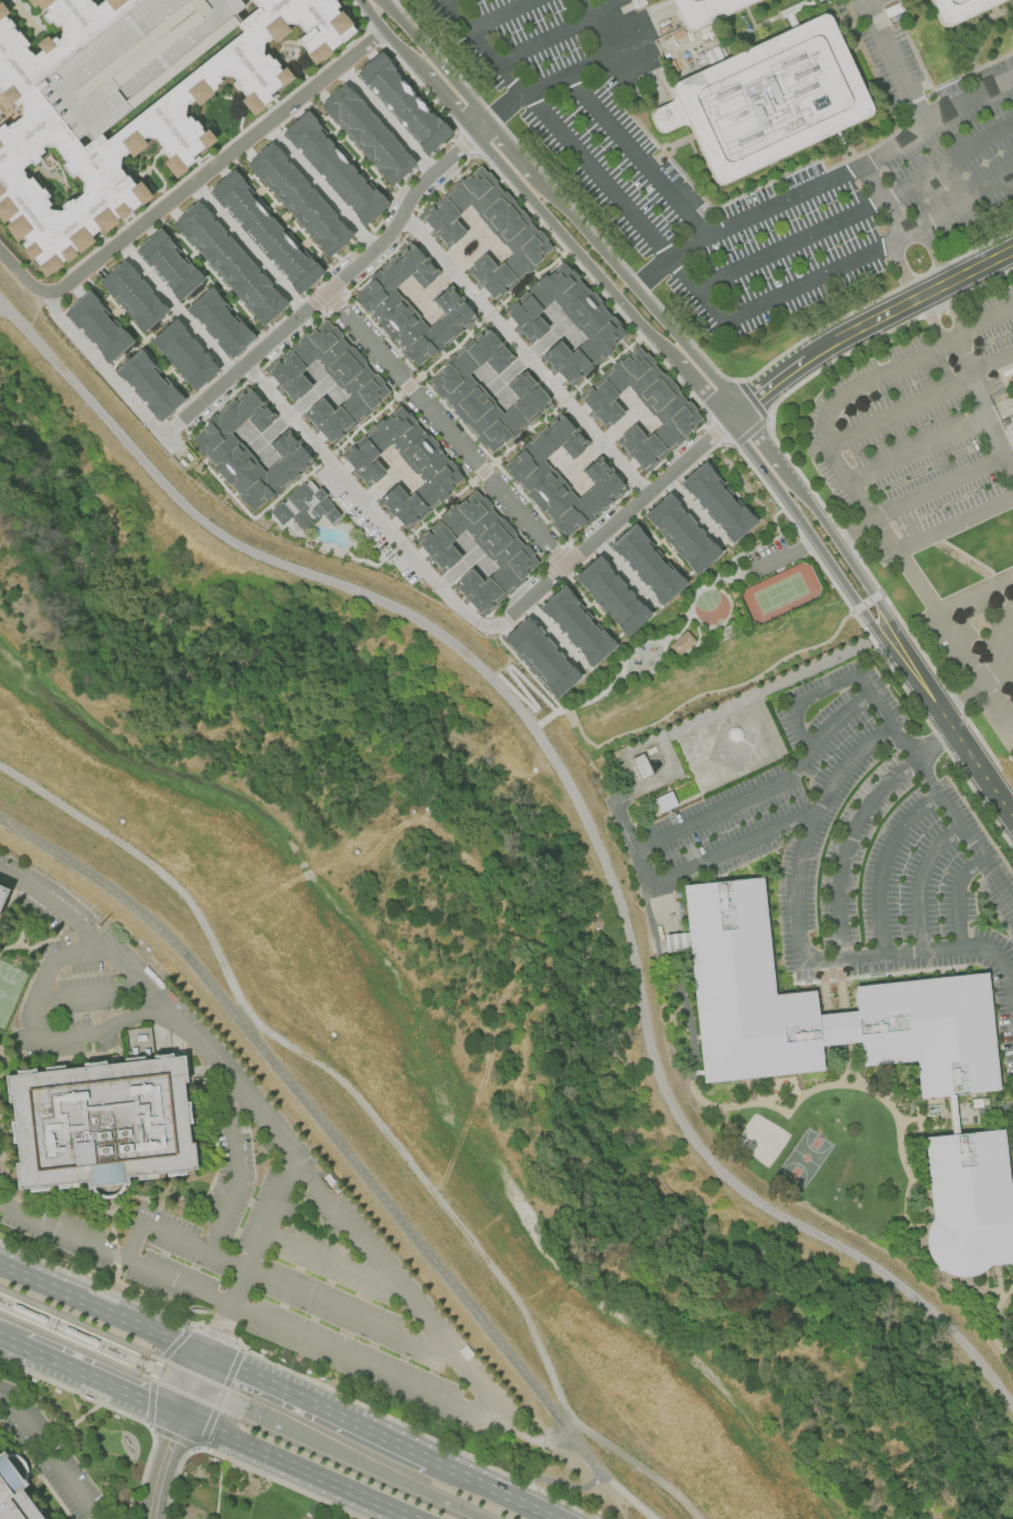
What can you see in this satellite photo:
parking lot: (389, 2)
building: (963, 9)
building: (709, 12)
road: (29, 13)
road: (38, 13)
park: (23, 15)
road: (504, 16)
road: (377, 35)
road: (542, 43)
road: (598, 46)
road: (360, 48)
building: (131, 59)
parking garage: (131, 59)
road: (292, 60)
road: (435, 62)
road: (895, 66)
road: (566, 78)
road: (226, 96)
road: (274, 100)
building: (770, 100)
building: (401, 101)
road: (236, 105)
road: (8, 112)
building: (129, 113)
road: (499, 113)
road: (384, 119)
road: (554, 129)
building: (366, 134)
road: (227, 141)
road: (201, 156)
road: (638, 158)
building: (48, 159)
road: (195, 160)
parking lot: (926, 165)
building: (334, 168)
road: (152, 169)
road: (52, 175)
road: (844, 176)
road: (197, 178)
road: (145, 181)
road: (443, 181)
road: (319, 186)
building: (298, 198)
road: (884, 202)
road: (130, 214)
road: (857, 214)
road: (123, 217)
road: (410, 224)
building: (264, 231)
road: (99, 235)
building: (520, 238)
road: (246, 248)
road: (936, 254)
road: (576, 262)
building: (228, 263)
building: (167, 264)
road: (833, 272)
road: (902, 273)
road: (651, 274)
road: (528, 277)
road: (25, 279)
road: (44, 296)
building: (131, 296)
road: (345, 298)
road: (311, 302)
road: (336, 304)
building: (383, 306)
road: (174, 309)
road: (319, 311)
road: (958, 311)
road: (287, 312)
road: (328, 312)
road: (630, 312)
road: (489, 313)
building: (590, 321)
building: (219, 323)
road: (872, 323)
building: (98, 325)
road: (984, 325)
road: (26, 326)
road: (931, 326)
road: (449, 351)
road: (256, 353)
road: (525, 353)
building: (183, 355)
road: (991, 360)
road: (604, 361)
road: (703, 368)
road: (252, 374)
building: (354, 379)
building: (149, 384)
road: (407, 385)
building: (459, 392)
road: (564, 398)
road: (838, 400)
road: (984, 403)
building: (667, 406)
road: (407, 408)
road: (899, 410)
road: (730, 413)
road: (455, 418)
road: (365, 421)
road: (445, 429)
road: (713, 433)
road: (522, 435)
road: (919, 448)
building: (247, 452)
road: (325, 457)
building: (431, 465)
road: (482, 471)
building: (533, 475)
parking lot: (931, 480)
road: (298, 482)
road: (637, 482)
road: (939, 485)
road: (653, 499)
building: (717, 503)
building: (304, 505)
road: (441, 506)
parking lot: (351, 507)
road: (347, 513)
road: (255, 516)
road: (954, 524)
road: (332, 526)
road: (853, 527)
building: (681, 533)
road: (401, 542)
road: (765, 543)
road: (325, 544)
road: (561, 545)
building: (505, 550)
road: (552, 551)
road: (783, 557)
building: (646, 564)
road: (544, 567)
parking lot: (405, 569)
road: (551, 576)
road: (515, 589)
park: (779, 593)
road: (973, 593)
building: (611, 596)
park: (711, 607)
road: (469, 616)
road: (727, 619)
road: (939, 621)
road: (494, 626)
building: (575, 626)
park: (715, 632)
road: (697, 639)
building: (681, 642)
building: (540, 657)
road: (999, 659)
road: (654, 670)
road: (710, 691)
road: (753, 694)
road: (804, 698)
road: (591, 699)
road: (874, 701)
road: (555, 713)
road: (546, 719)
road: (840, 719)
road: (537, 726)
road: (949, 726)
road: (1010, 727)
road: (932, 744)
building: (641, 766)
road: (577, 799)
road: (952, 816)
road: (623, 822)
parking lot: (841, 843)
road: (845, 847)
road: (638, 856)
road: (882, 863)
road: (922, 881)
building: (1, 887)
building: (3, 895)
river: (552, 896)
road: (957, 897)
road: (658, 925)
road: (800, 946)
park: (8, 990)
building: (924, 990)
road: (89, 995)
road: (42, 1032)
road: (848, 1084)
fountain: (913, 1089)
fountain: (905, 1099)
road: (373, 1117)
road: (956, 1117)
building: (956, 1118)
building: (100, 1123)
park: (751, 1132)
road: (270, 1133)
park: (768, 1145)
road: (343, 1150)
park: (814, 1152)
park: (805, 1158)
road: (235, 1168)
parking lot: (240, 1194)
building: (971, 1203)
road: (115, 1255)
road: (251, 1259)
road: (331, 1263)
road: (280, 1286)
road: (102, 1311)
park: (1005, 1322)
road: (996, 1329)
road: (9, 1342)
traffic signals: (205, 1355)
railway: (137, 1357)
road: (146, 1364)
road: (369, 1366)
road: (300, 1374)
road: (97, 1381)
road: (191, 1384)
railway: (250, 1399)
road: (313, 1403)
traffic signals: (178, 1415)
railway: (234, 1415)
road: (170, 1436)
parking lot: (50, 1455)
road: (49, 1457)
road: (439, 1464)
road: (159, 1466)
road: (295, 1466)
road: (34, 1471)
building: (14, 1495)
road: (506, 1496)
building: (45, 1518)

